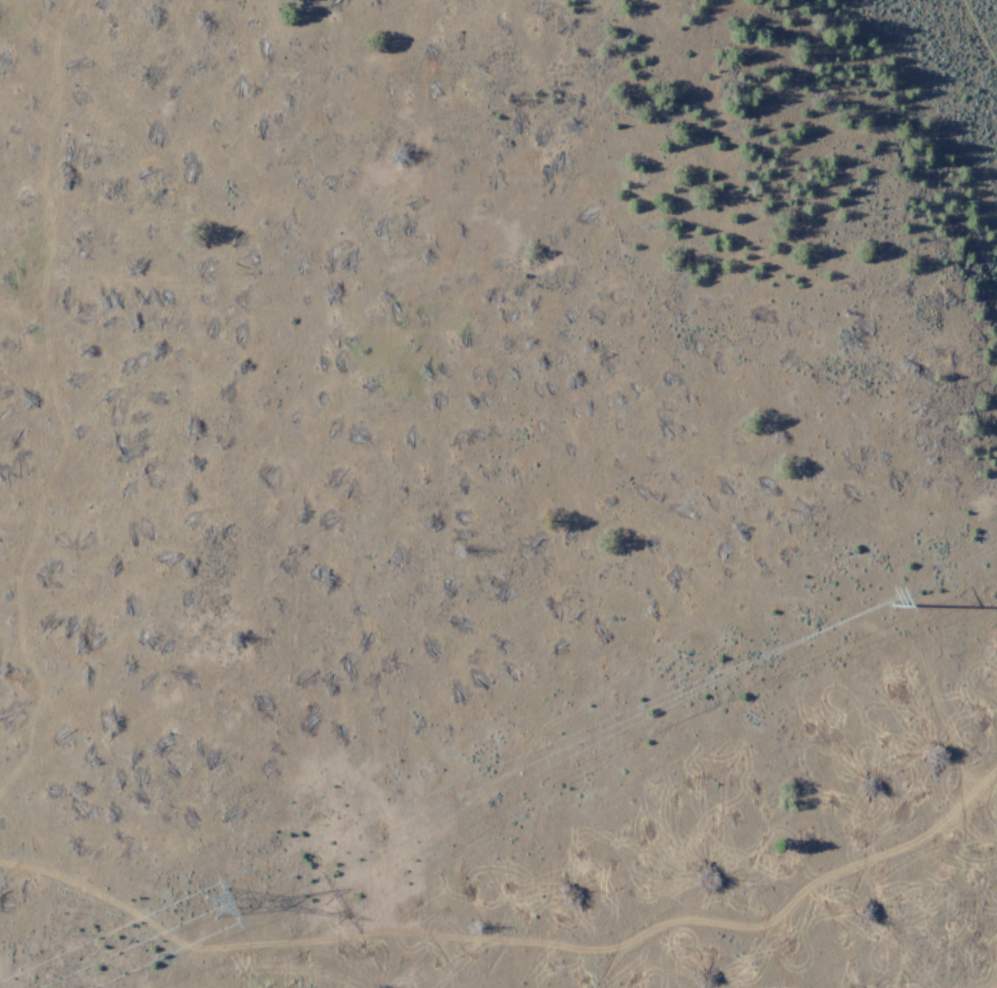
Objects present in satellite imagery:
power tower: (900, 608)
power tower: (222, 906)

